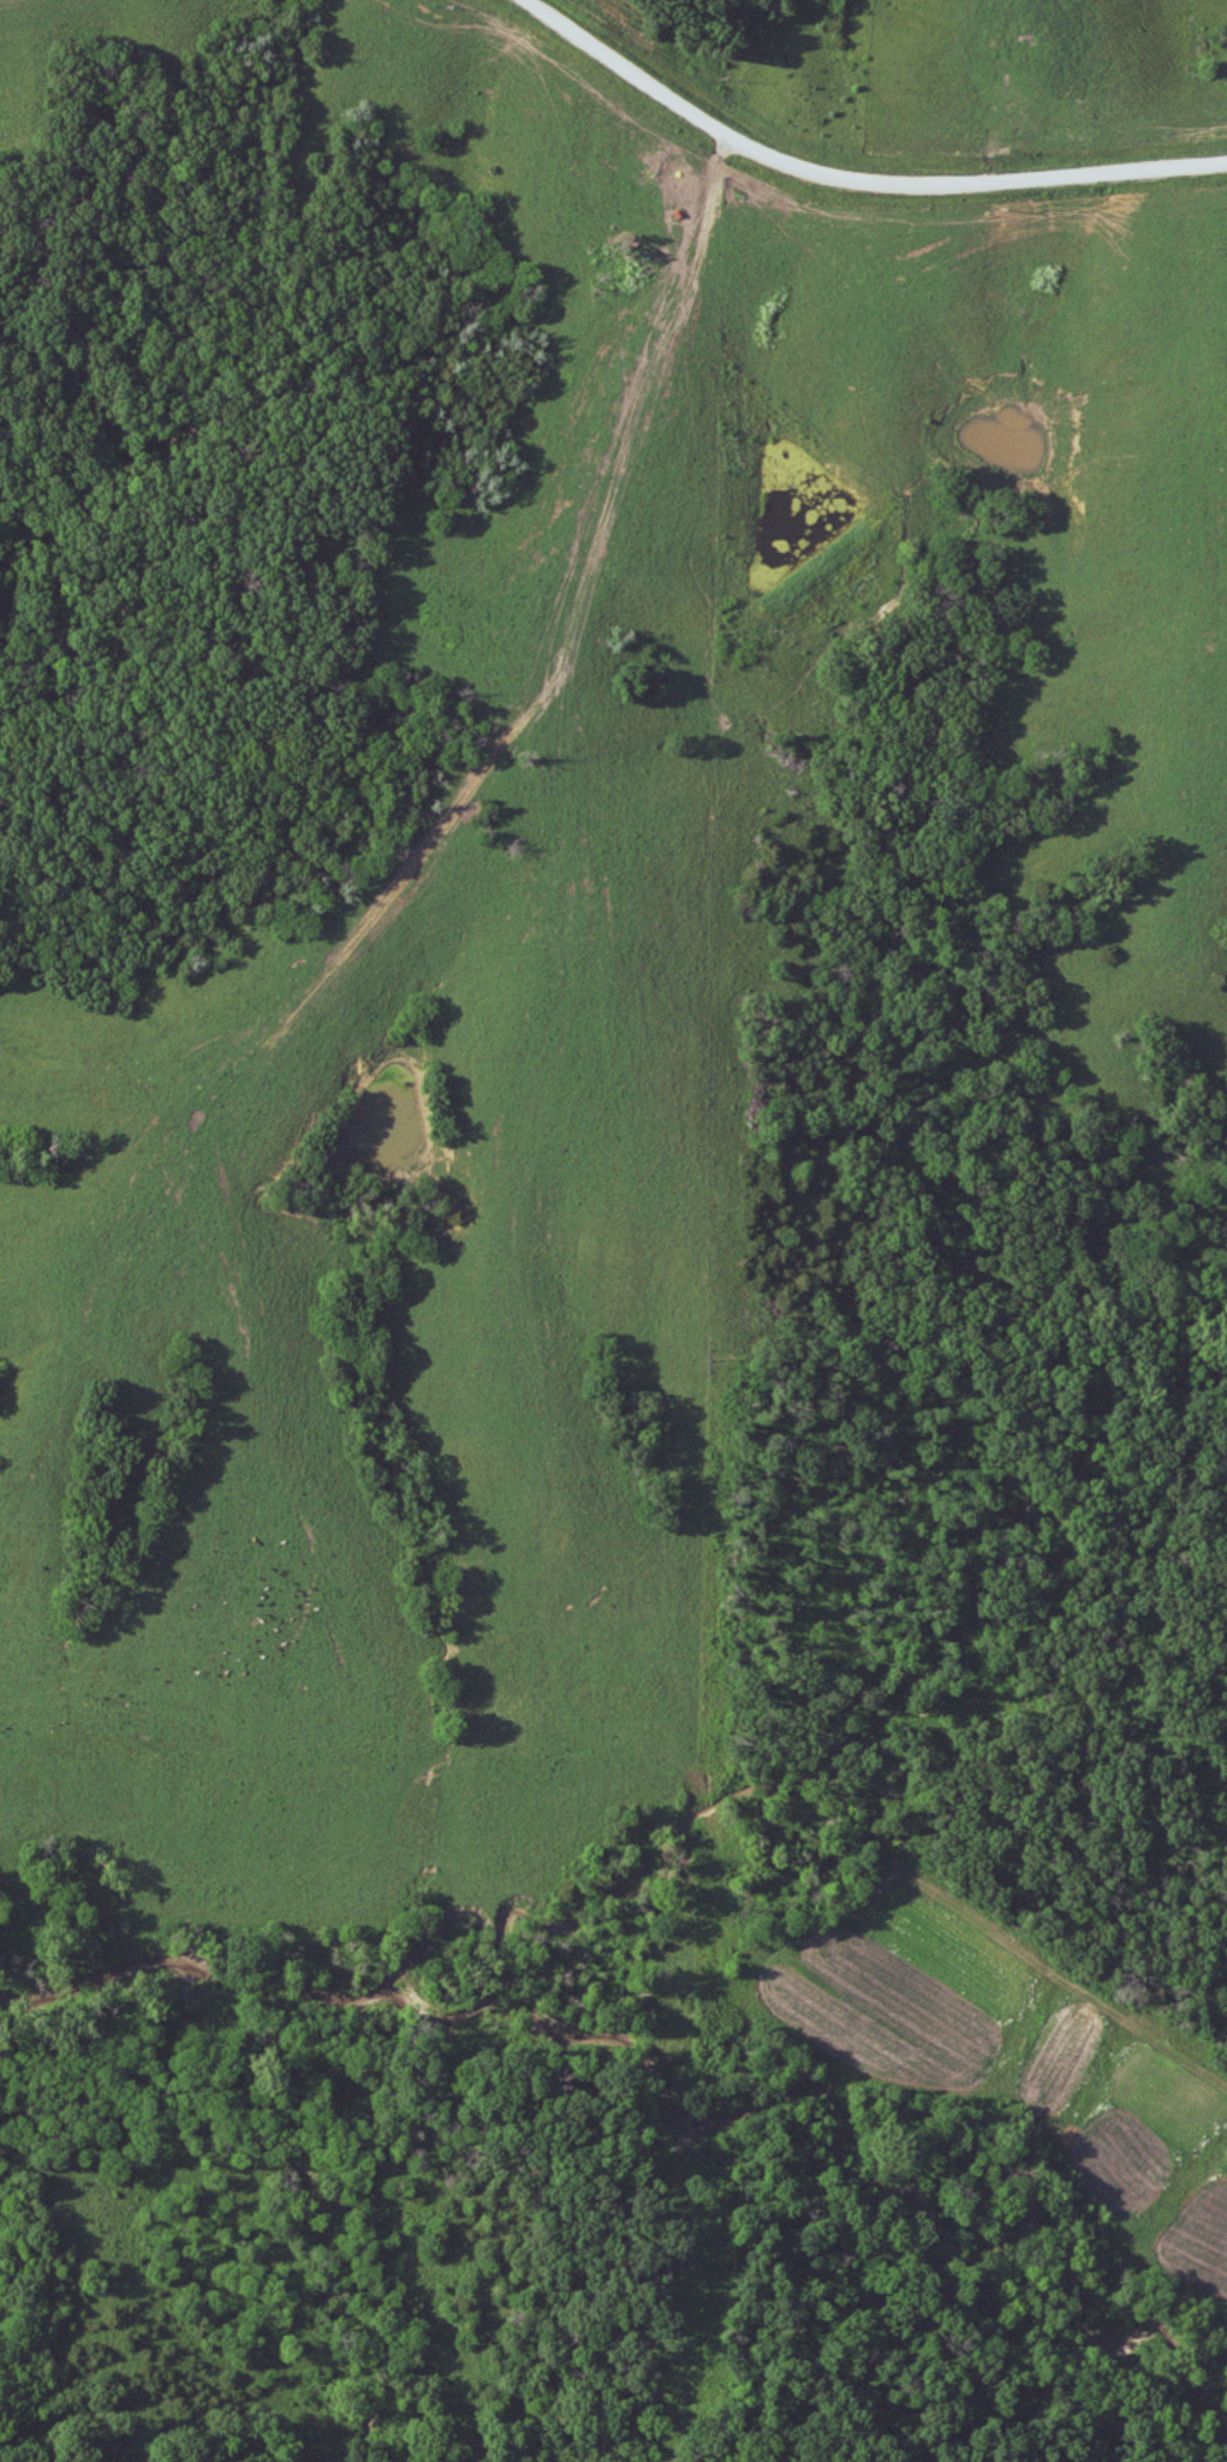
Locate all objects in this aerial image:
road: (851, 180)

